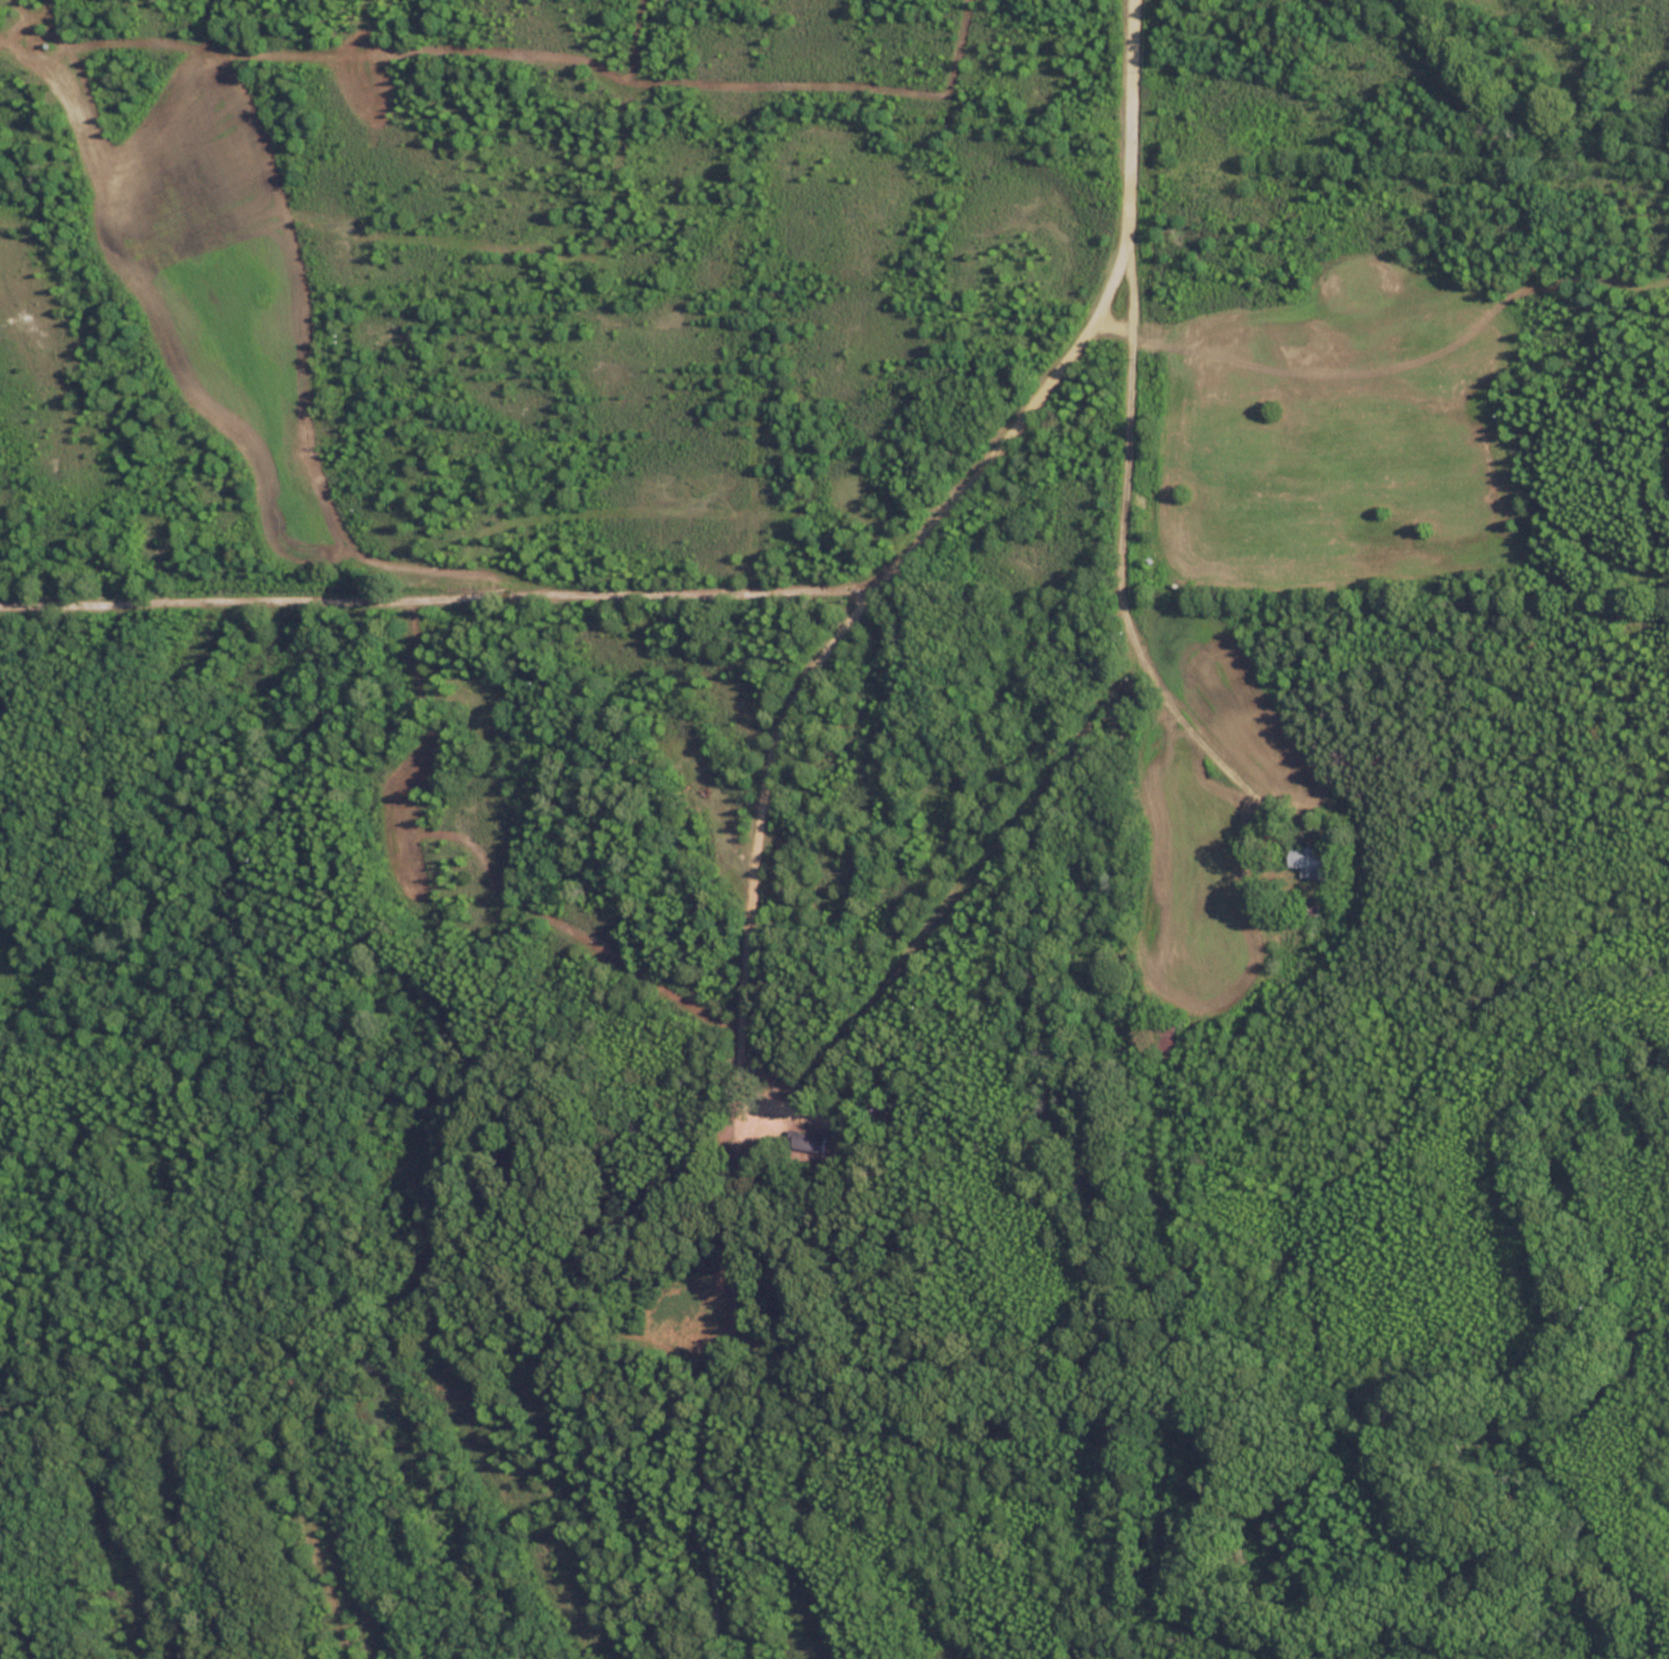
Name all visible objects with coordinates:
road: (1120, 316)
road: (1130, 508)
road: (436, 584)
road: (840, 612)
building: (1311, 863)
building: (1165, 1042)
building: (808, 1142)

